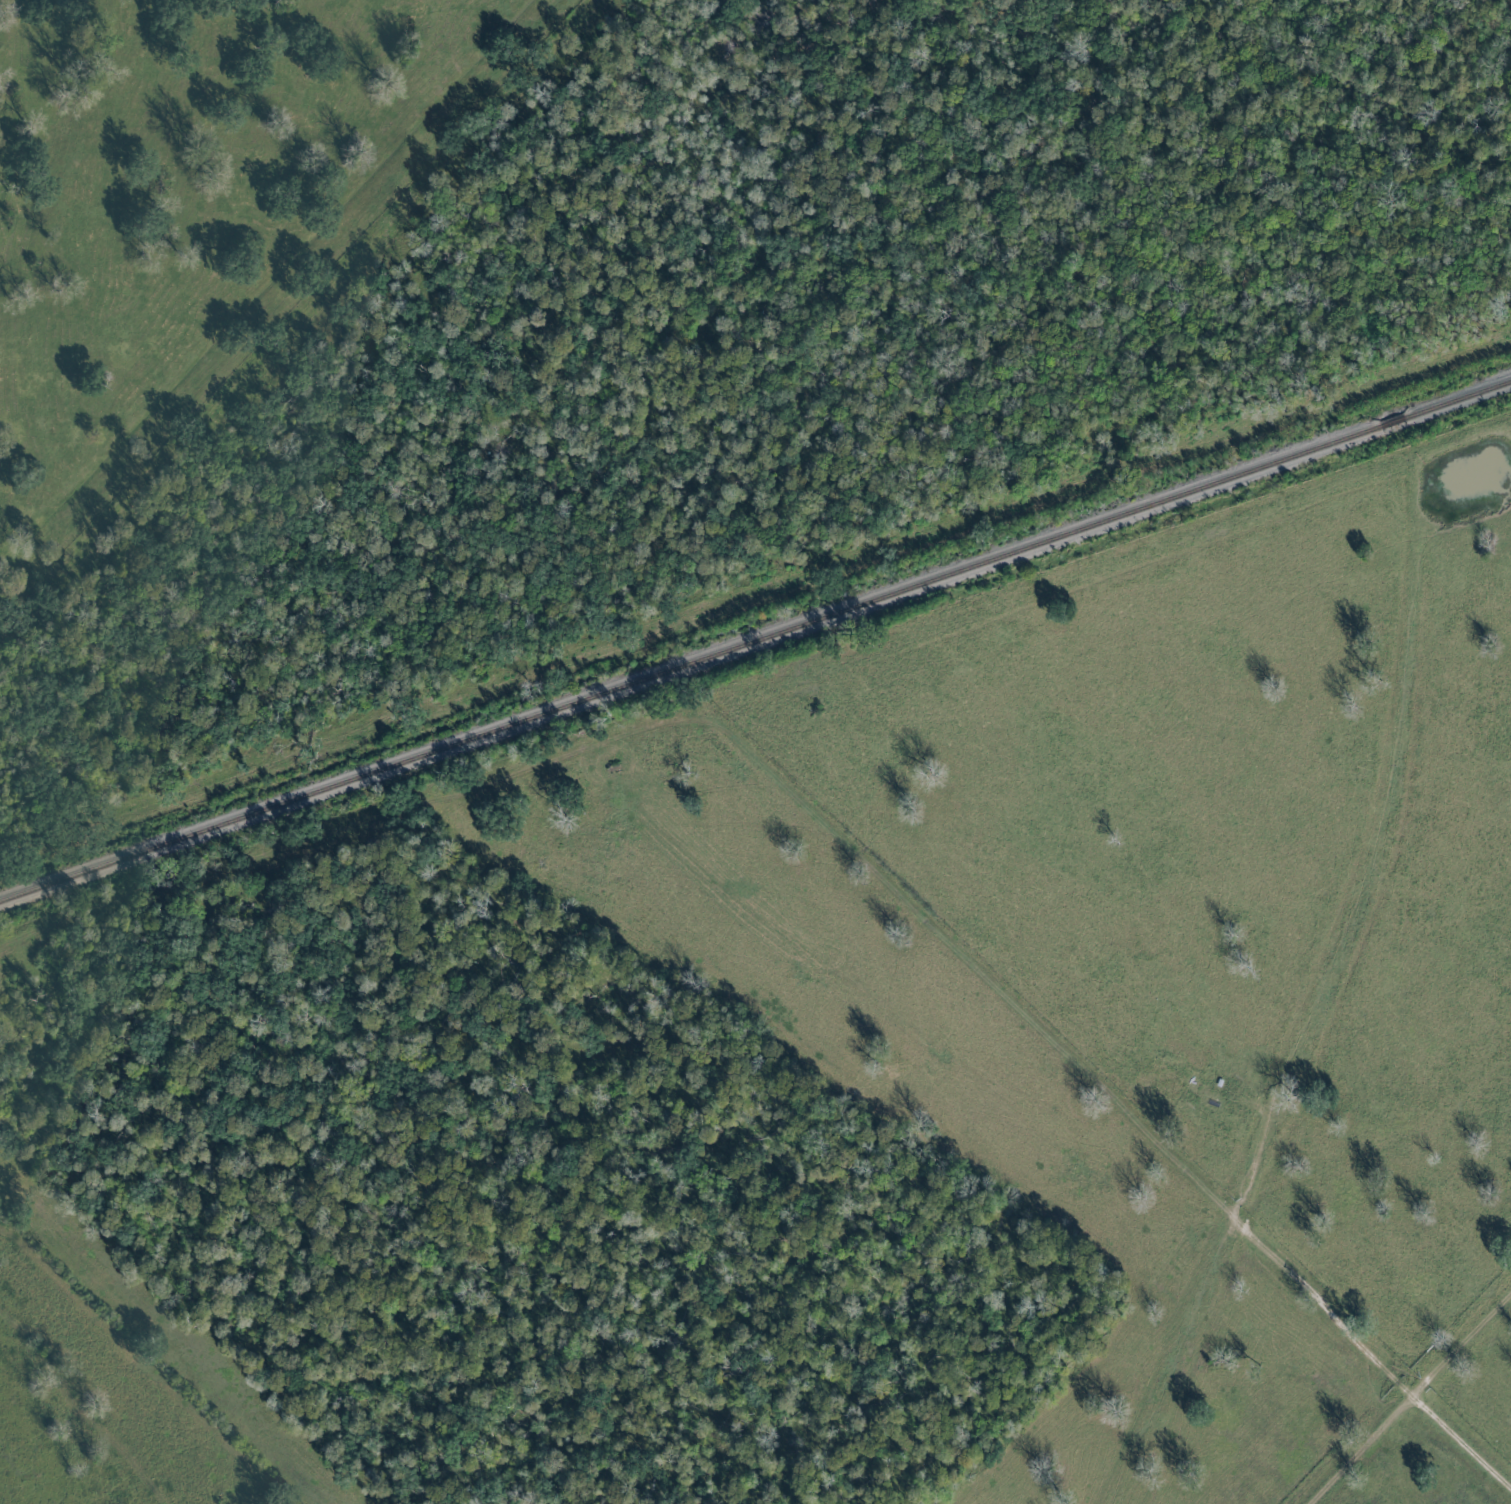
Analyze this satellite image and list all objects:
road: (271, 290)
railway: (755, 641)
road: (1407, 1396)
road: (1461, 1437)

